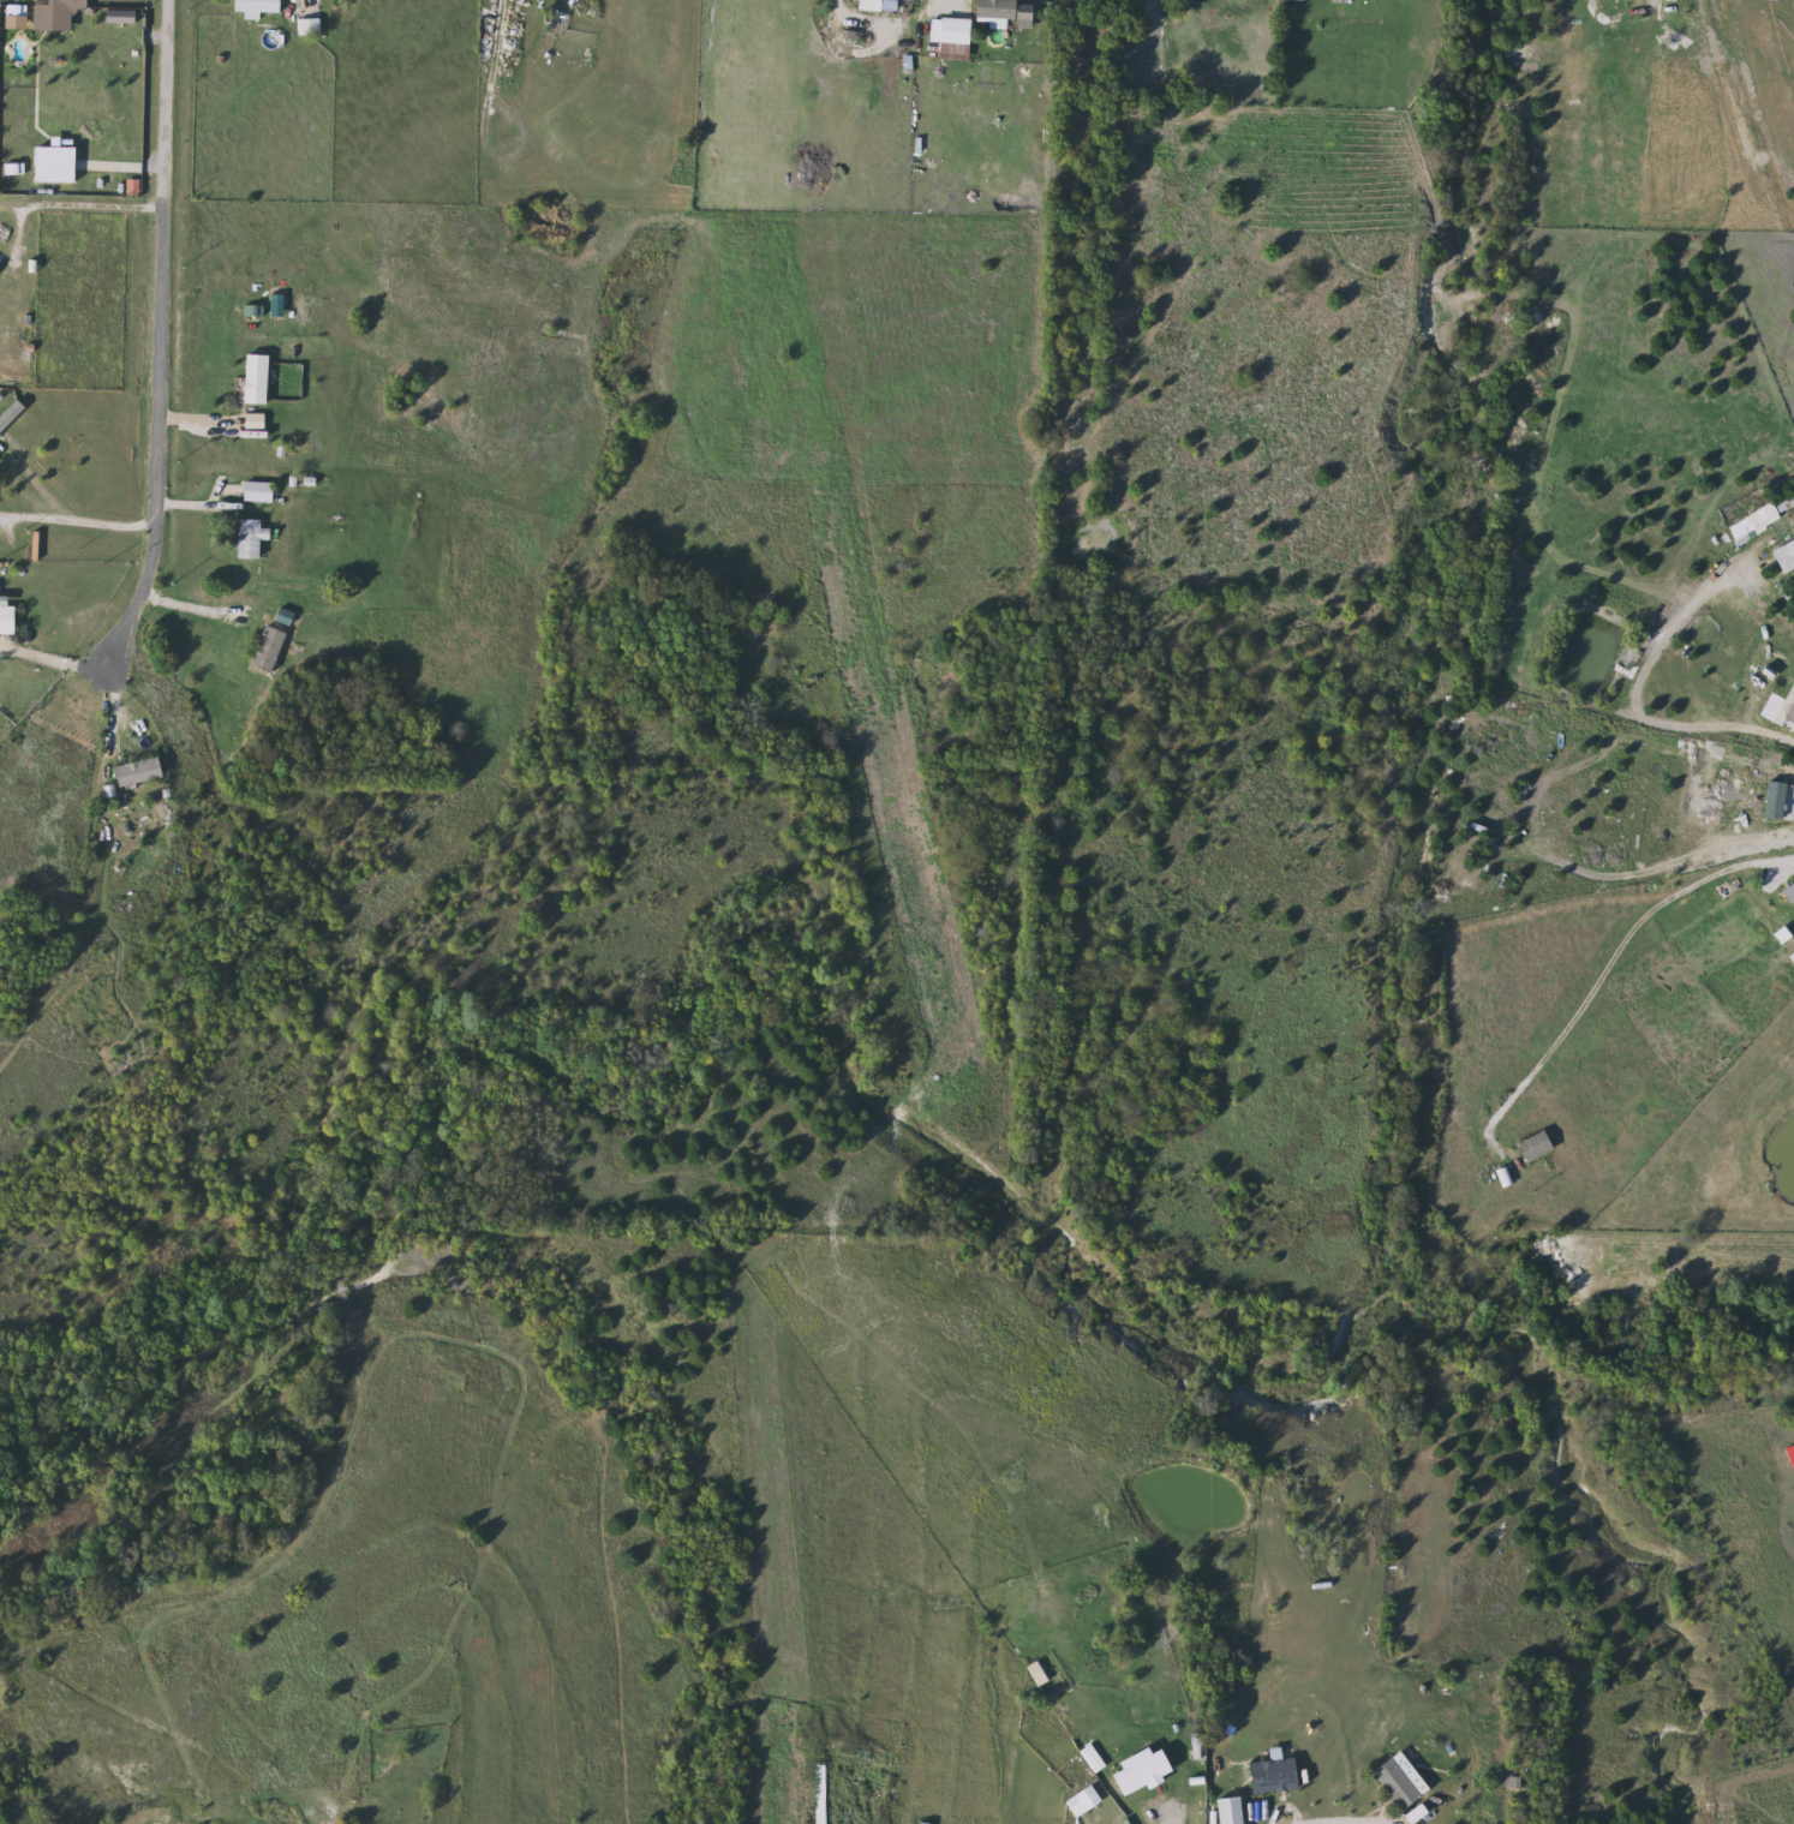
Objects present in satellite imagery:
road: (957, 1)
building: (866, 5)
building: (262, 6)
building: (992, 10)
building: (68, 13)
building: (946, 37)
road: (79, 204)
building: (1, 265)
road: (155, 339)
building: (261, 378)
building: (258, 423)
building: (262, 491)
building: (1758, 518)
road: (76, 521)
building: (255, 538)
building: (1783, 556)
road: (196, 611)
building: (10, 615)
building: (273, 650)
road: (49, 659)
road: (1631, 699)
building: (1789, 712)
building: (143, 772)
building: (1787, 892)
road: (1616, 957)
building: (1530, 1147)
building: (1136, 1774)
building: (1268, 1776)
building: (1395, 1782)
building: (1509, 1784)
building: (363, 1810)
building: (1225, 1811)
road: (1164, 1814)
road: (1350, 1822)

